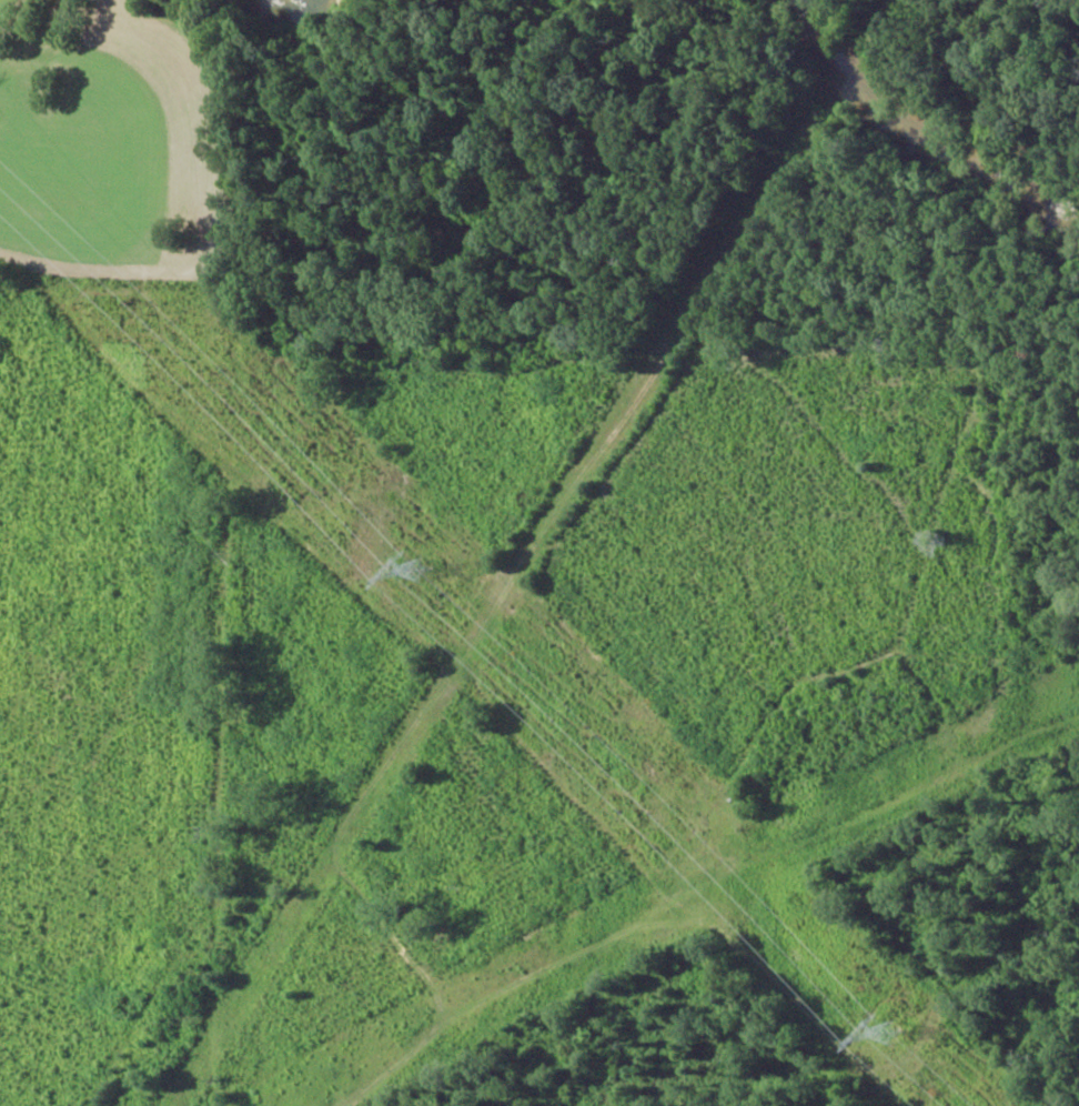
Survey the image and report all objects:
power tower: (414, 572)
power tower: (891, 1033)

